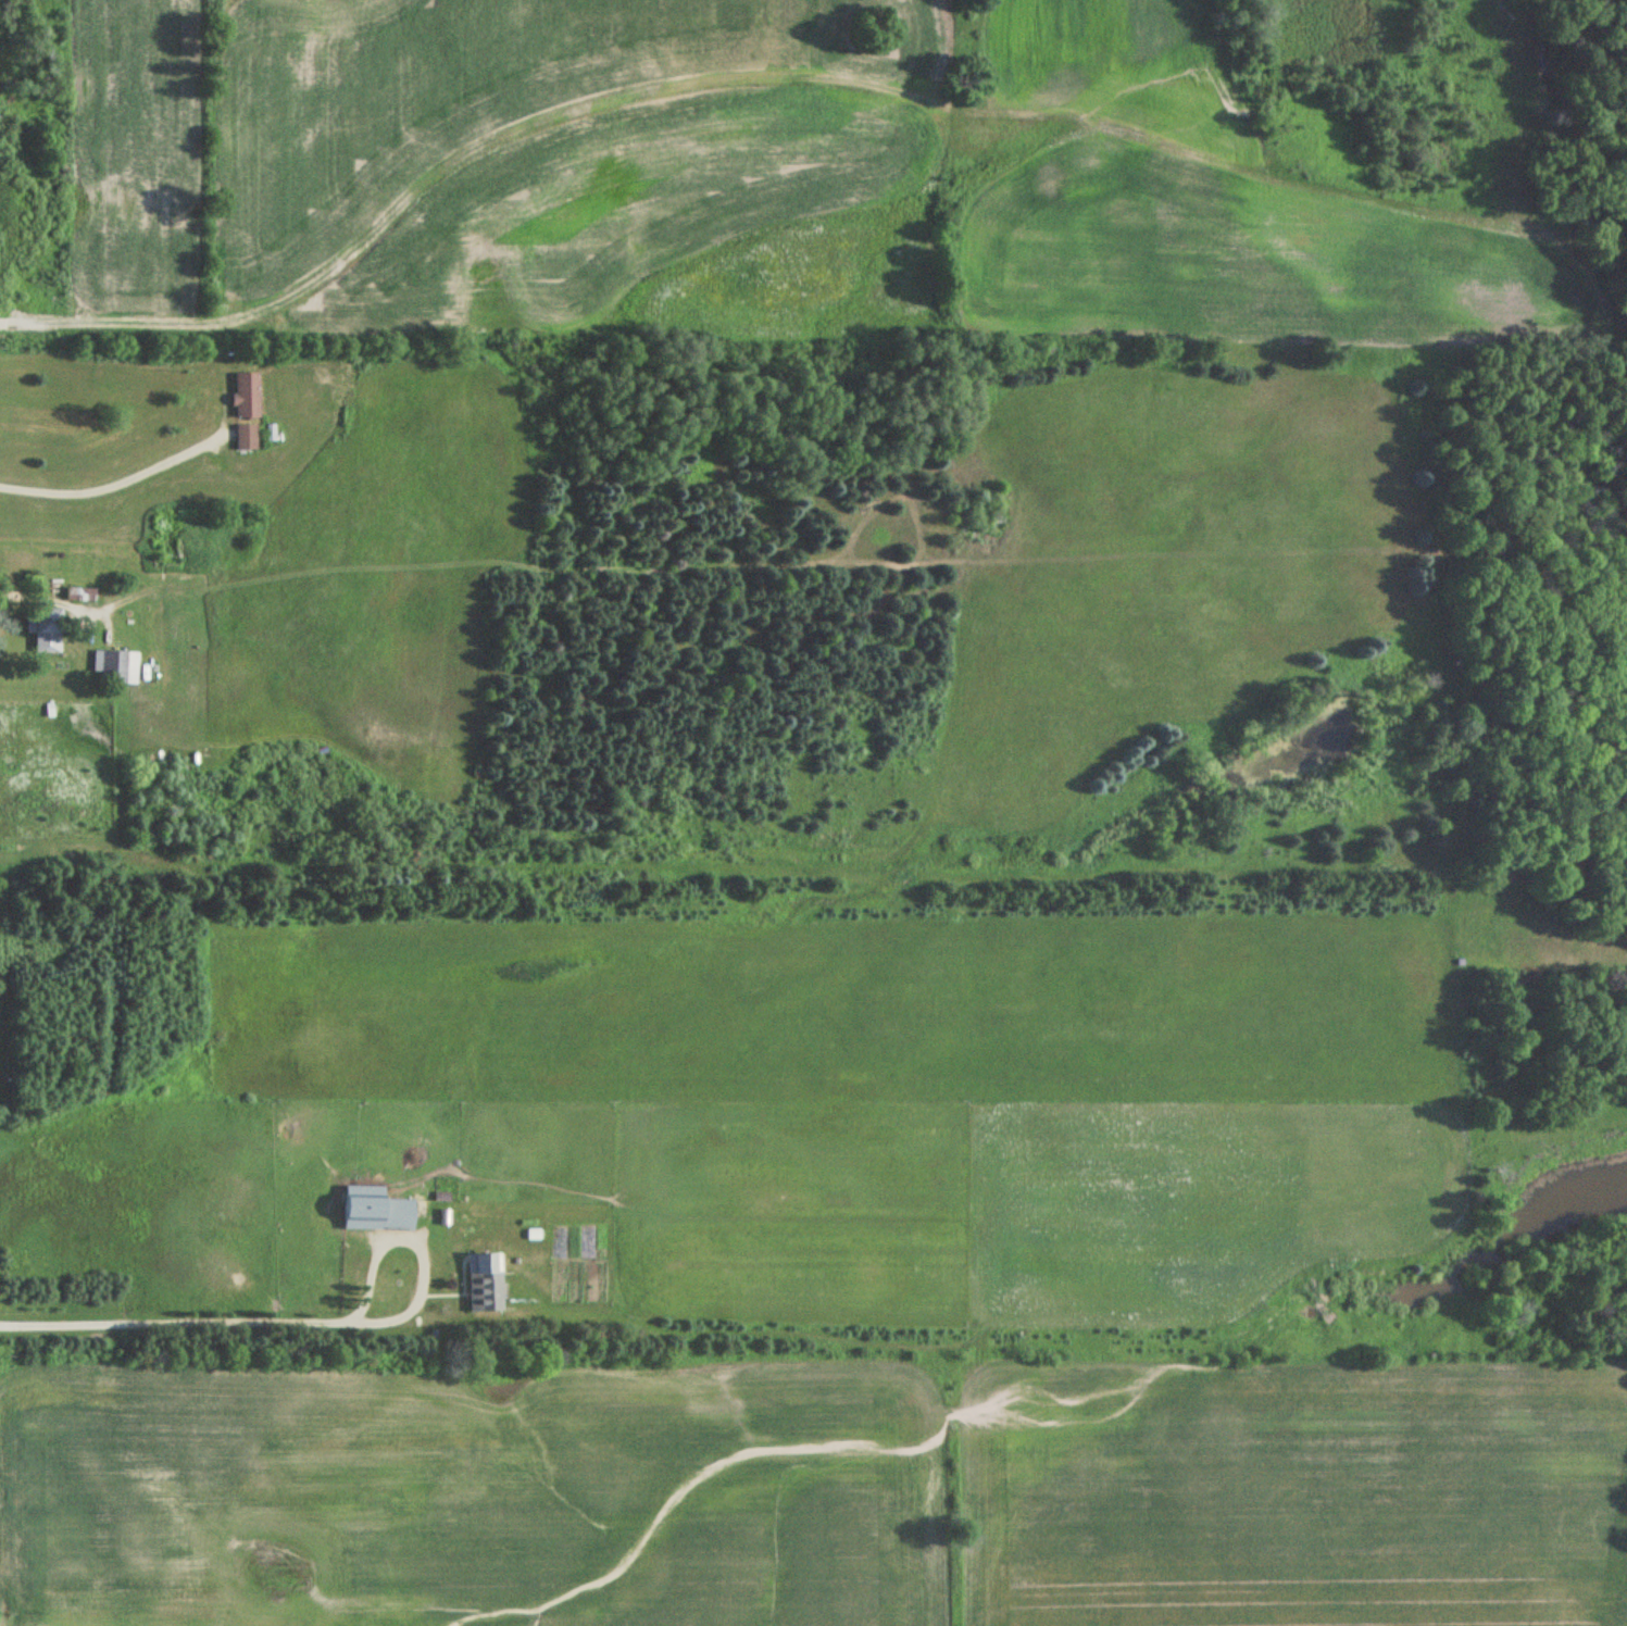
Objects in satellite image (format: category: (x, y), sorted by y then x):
building: (245, 393)
building: (246, 436)
road: (118, 483)
road: (52, 600)
road: (80, 620)
building: (46, 625)
building: (116, 665)
building: (395, 1214)
road: (421, 1248)
building: (483, 1291)
road: (176, 1322)

